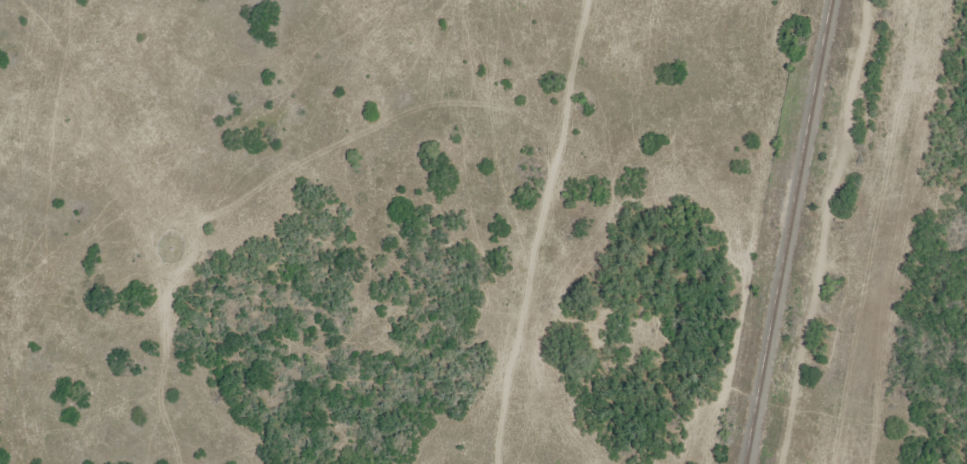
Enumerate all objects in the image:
road: (615, 229)
railway: (789, 232)

